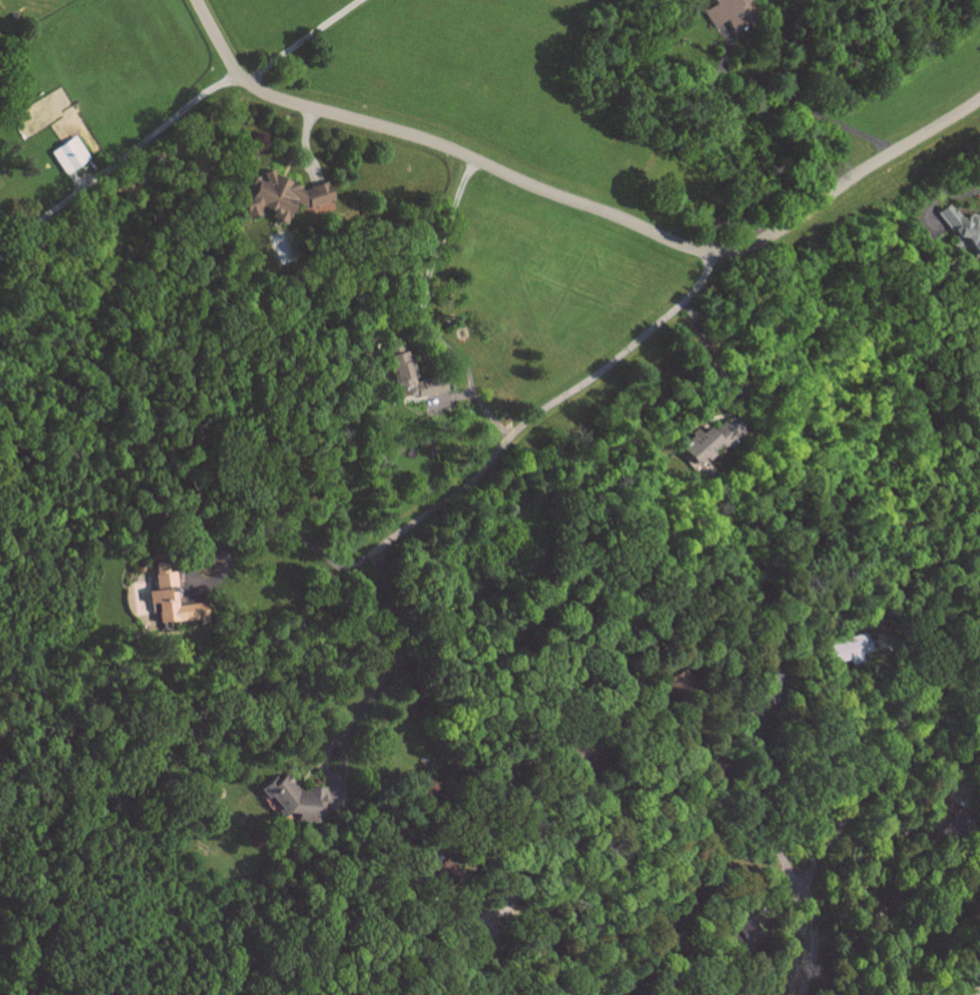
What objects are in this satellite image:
building: (733, 14)
road: (297, 40)
road: (792, 101)
building: (72, 155)
road: (118, 165)
road: (963, 190)
building: (286, 196)
road: (579, 203)
building: (963, 223)
road: (420, 310)
building: (406, 365)
road: (715, 367)
road: (545, 410)
building: (710, 442)
road: (240, 539)
building: (177, 600)
road: (392, 649)
building: (853, 649)
road: (910, 738)
road: (727, 739)
road: (861, 778)
road: (659, 779)
road: (776, 785)
building: (300, 800)
building: (958, 826)
building: (450, 871)
road: (699, 885)
road: (452, 914)
building: (747, 933)
road: (447, 946)
road: (832, 950)
road: (978, 993)

